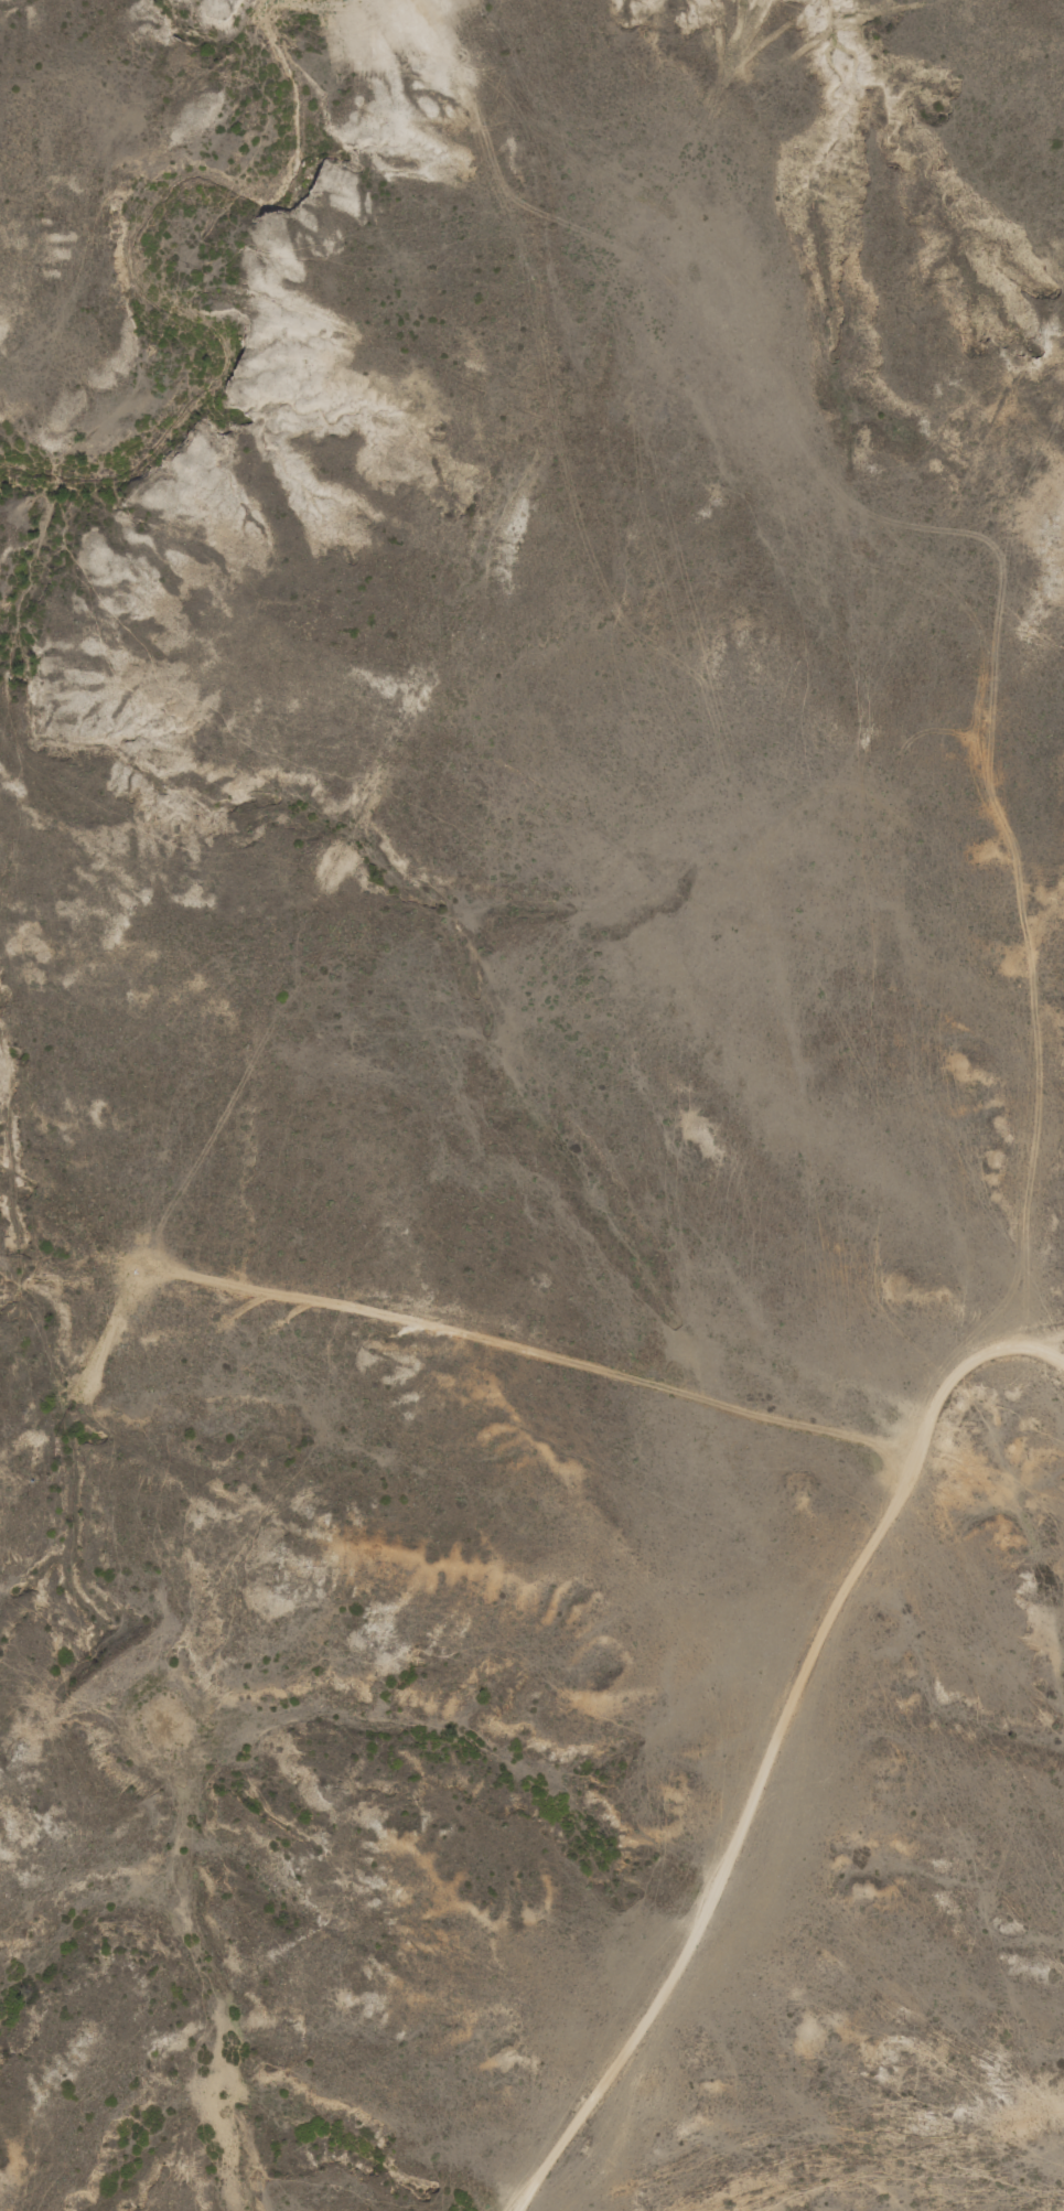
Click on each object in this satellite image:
road: (815, 1748)

